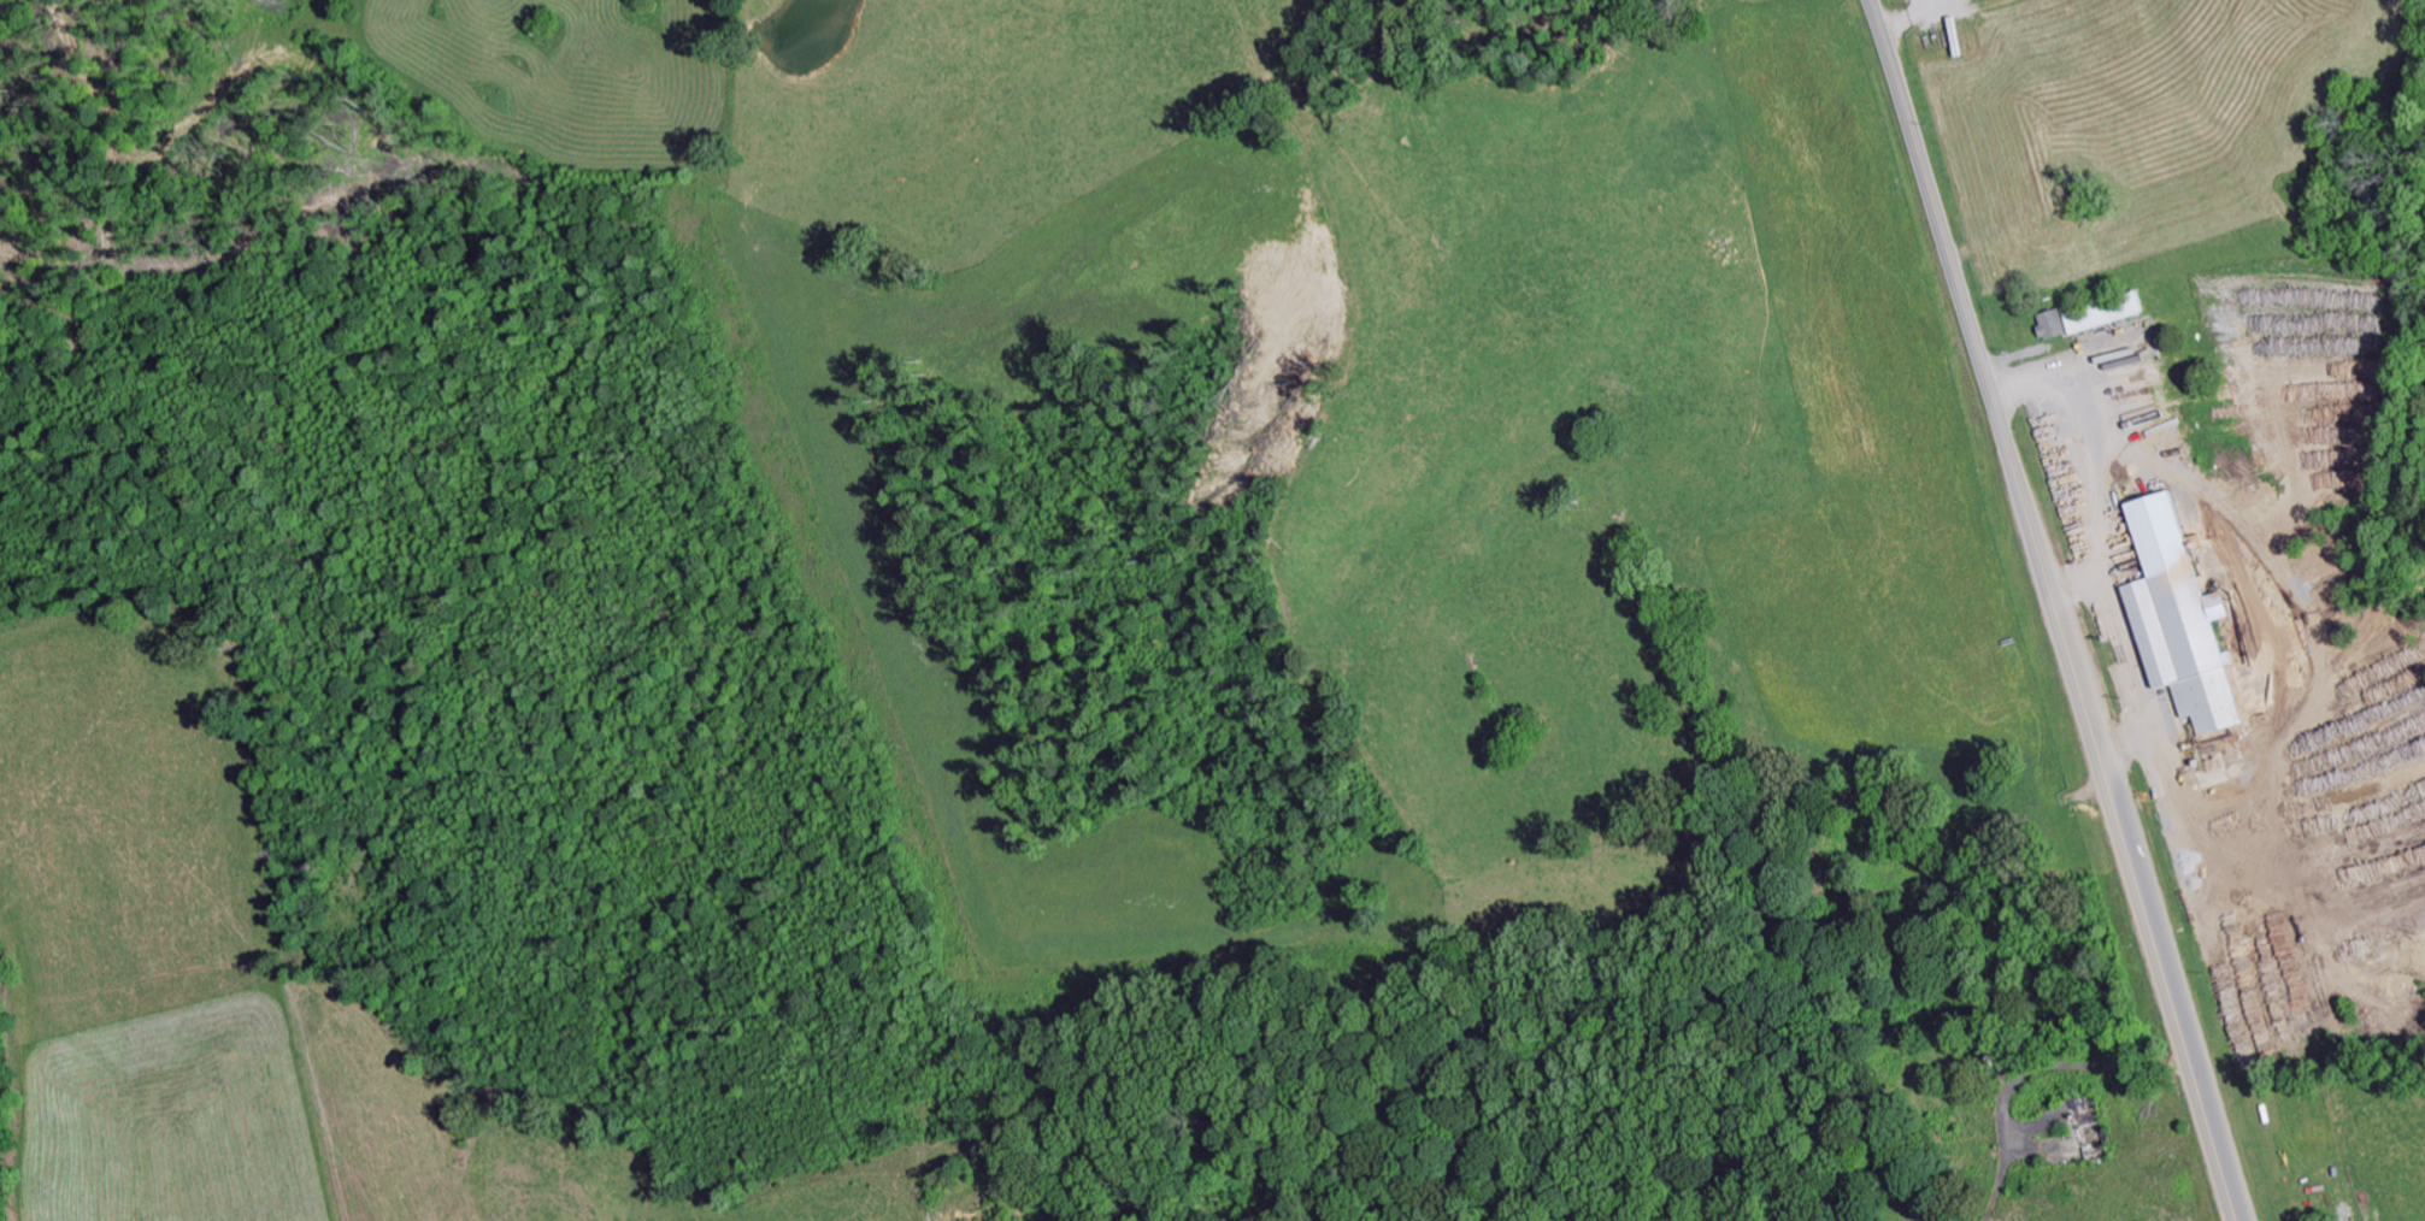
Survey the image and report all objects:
building: (1962, 0)
building: (2077, 326)
building: (2047, 329)
road: (2054, 609)
building: (2173, 624)

